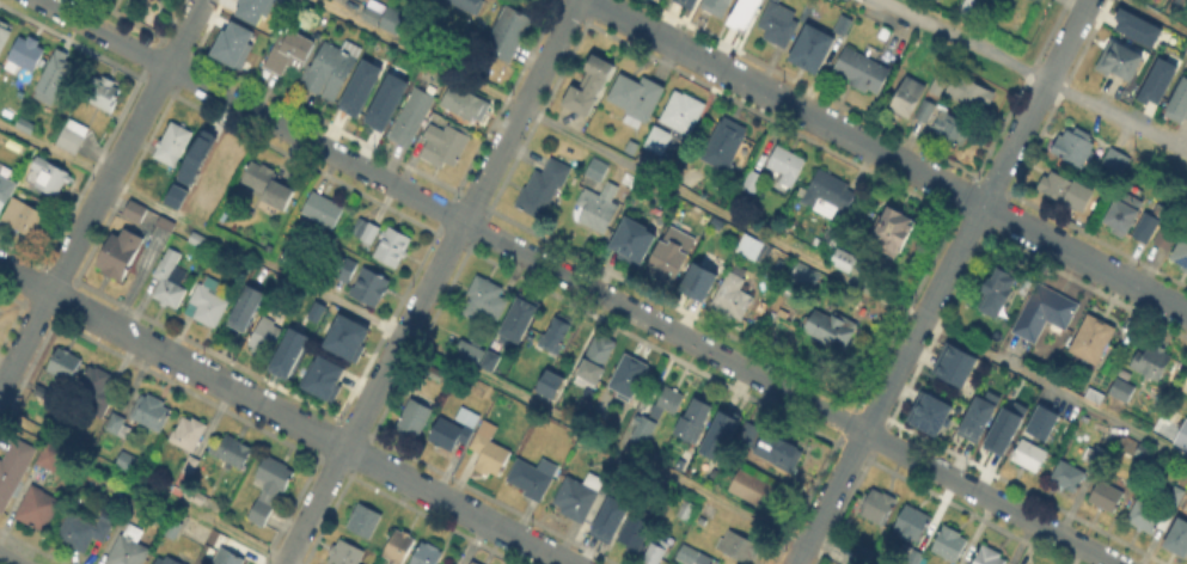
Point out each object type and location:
building: (435, 0)
building: (686, 2)
building: (469, 5)
building: (723, 6)
building: (971, 7)
building: (250, 10)
building: (741, 13)
road: (1157, 16)
building: (387, 19)
building: (842, 24)
building: (779, 25)
building: (1134, 25)
building: (4, 35)
building: (509, 35)
building: (228, 45)
building: (810, 47)
building: (27, 53)
building: (289, 54)
building: (1116, 59)
building: (331, 70)
building: (862, 72)
road: (1036, 75)
building: (54, 78)
building: (1155, 80)
building: (940, 82)
building: (586, 84)
building: (357, 86)
building: (969, 93)
building: (106, 96)
building: (908, 98)
building: (384, 100)
building: (638, 100)
road: (1034, 103)
building: (466, 104)
building: (1179, 104)
building: (926, 112)
building: (412, 118)
building: (675, 123)
building: (954, 128)
building: (72, 135)
building: (173, 145)
building: (726, 145)
building: (445, 146)
building: (1076, 149)
building: (195, 154)
road: (888, 157)
building: (1113, 158)
building: (788, 166)
building: (215, 171)
building: (598, 171)
building: (53, 177)
building: (748, 179)
building: (754, 183)
building: (267, 185)
building: (6, 189)
building: (543, 189)
building: (1060, 189)
road: (100, 194)
building: (173, 195)
building: (828, 195)
building: (598, 208)
building: (324, 210)
building: (136, 211)
building: (1120, 211)
building: (704, 217)
building: (24, 221)
building: (1143, 226)
road: (749, 229)
building: (365, 234)
building: (1163, 234)
building: (894, 235)
building: (636, 238)
building: (201, 241)
building: (392, 245)
building: (751, 247)
building: (673, 253)
building: (121, 255)
building: (1182, 255)
building: (844, 260)
building: (344, 269)
building: (804, 274)
building: (700, 280)
building: (170, 281)
road: (430, 281)
road: (576, 281)
building: (369, 289)
building: (999, 293)
building: (485, 300)
building: (733, 300)
building: (209, 305)
building: (247, 307)
building: (313, 309)
building: (1045, 313)
building: (521, 318)
building: (832, 330)
road: (402, 332)
building: (551, 333)
building: (343, 335)
building: (265, 337)
building: (1093, 341)
building: (286, 350)
building: (470, 352)
building: (593, 356)
building: (494, 360)
building: (952, 362)
building: (65, 363)
building: (1152, 363)
building: (629, 378)
building: (319, 382)
building: (546, 382)
road: (887, 385)
building: (97, 390)
building: (1186, 390)
building: (1122, 391)
building: (44, 394)
building: (1096, 398)
building: (668, 403)
building: (928, 412)
building: (151, 413)
road: (283, 416)
building: (978, 416)
building: (414, 419)
building: (1039, 421)
building: (696, 423)
building: (118, 427)
building: (642, 427)
building: (1002, 427)
building: (188, 434)
building: (721, 434)
building: (1181, 434)
building: (473, 443)
building: (231, 452)
building: (1026, 453)
building: (779, 454)
building: (1145, 454)
building: (50, 455)
building: (1096, 456)
building: (128, 462)
building: (189, 467)
building: (13, 468)
building: (1069, 476)
building: (532, 478)
road: (146, 489)
building: (270, 489)
building: (759, 491)
building: (1171, 493)
building: (579, 497)
building: (195, 498)
building: (1107, 498)
building: (1183, 503)
building: (879, 507)
building: (37, 508)
building: (134, 511)
building: (608, 516)
building: (1149, 517)
building: (365, 521)
building: (913, 523)
building: (171, 531)
building: (84, 532)
building: (637, 533)
building: (1179, 535)
building: (952, 545)
building: (400, 547)
building: (740, 547)
building: (129, 548)
building: (657, 551)
building: (906, 552)
building: (347, 553)
building: (428, 553)
building: (691, 557)
building: (990, 557)
building: (227, 558)
road: (7, 559)
building: (167, 560)
building: (475, 563)

